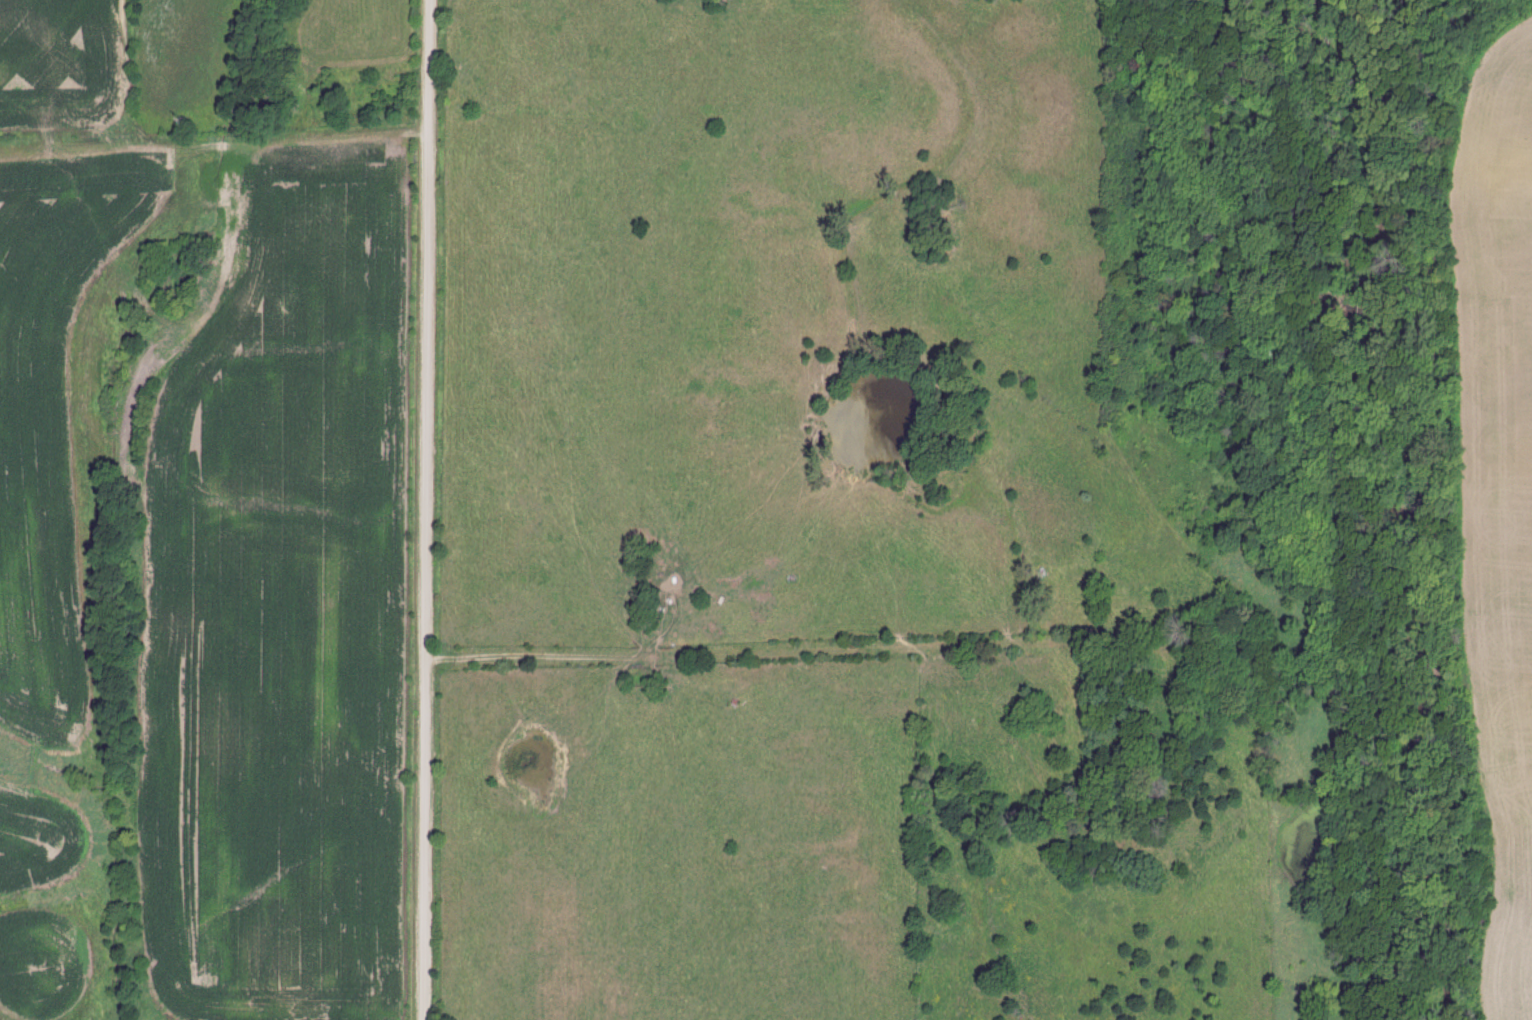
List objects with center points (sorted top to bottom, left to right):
road: (409, 510)
road: (726, 622)

